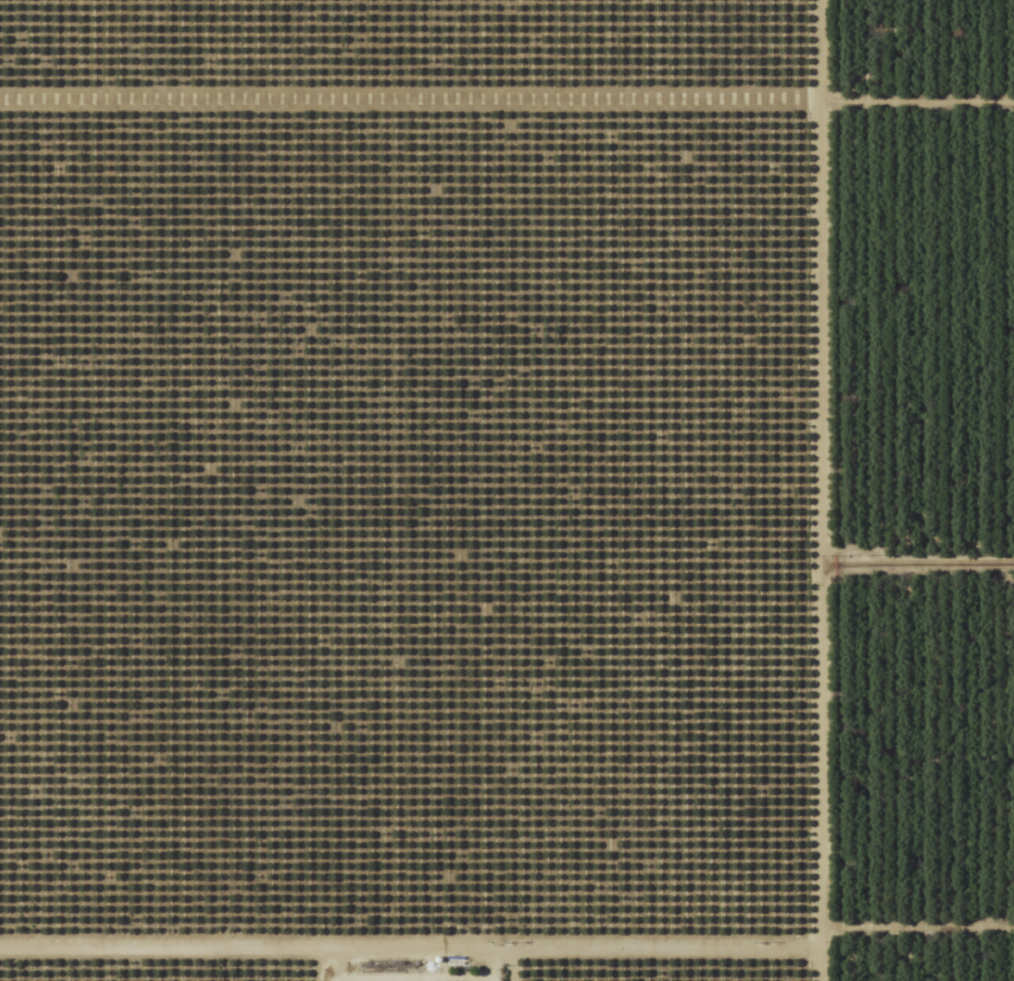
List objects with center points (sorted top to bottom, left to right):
road: (813, 490)

